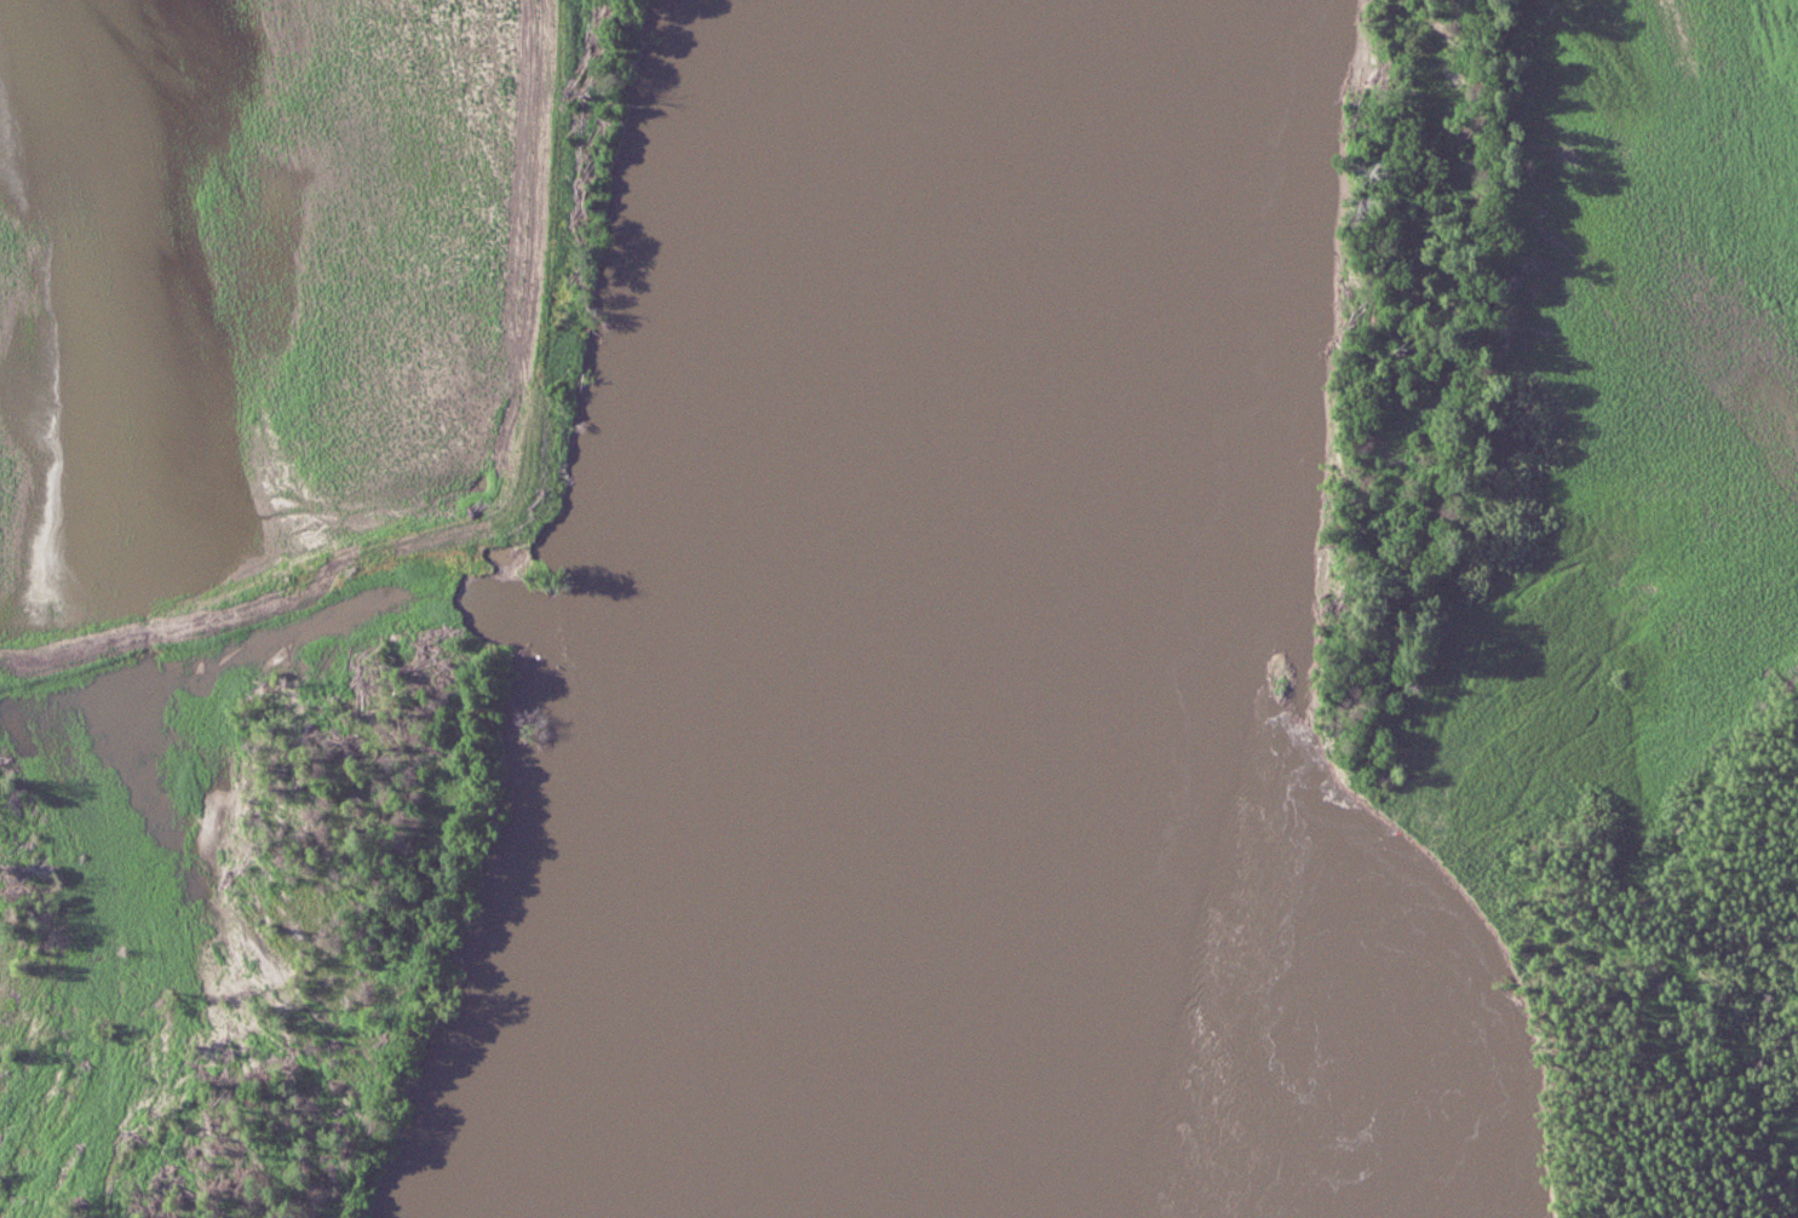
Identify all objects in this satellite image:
river: (908, 609)

